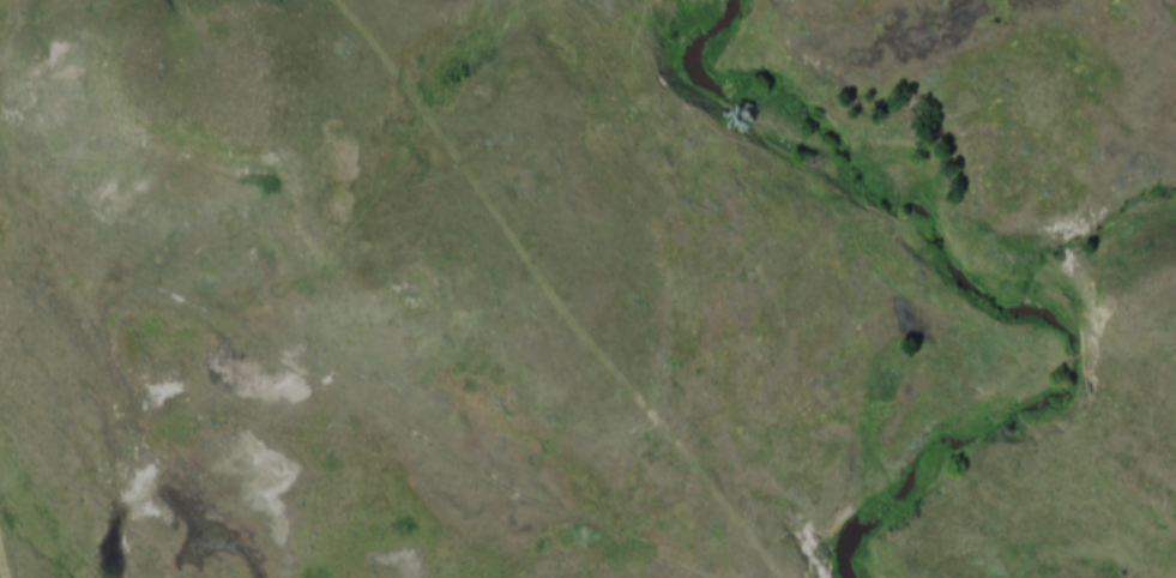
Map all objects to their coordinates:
road: (5, 554)

